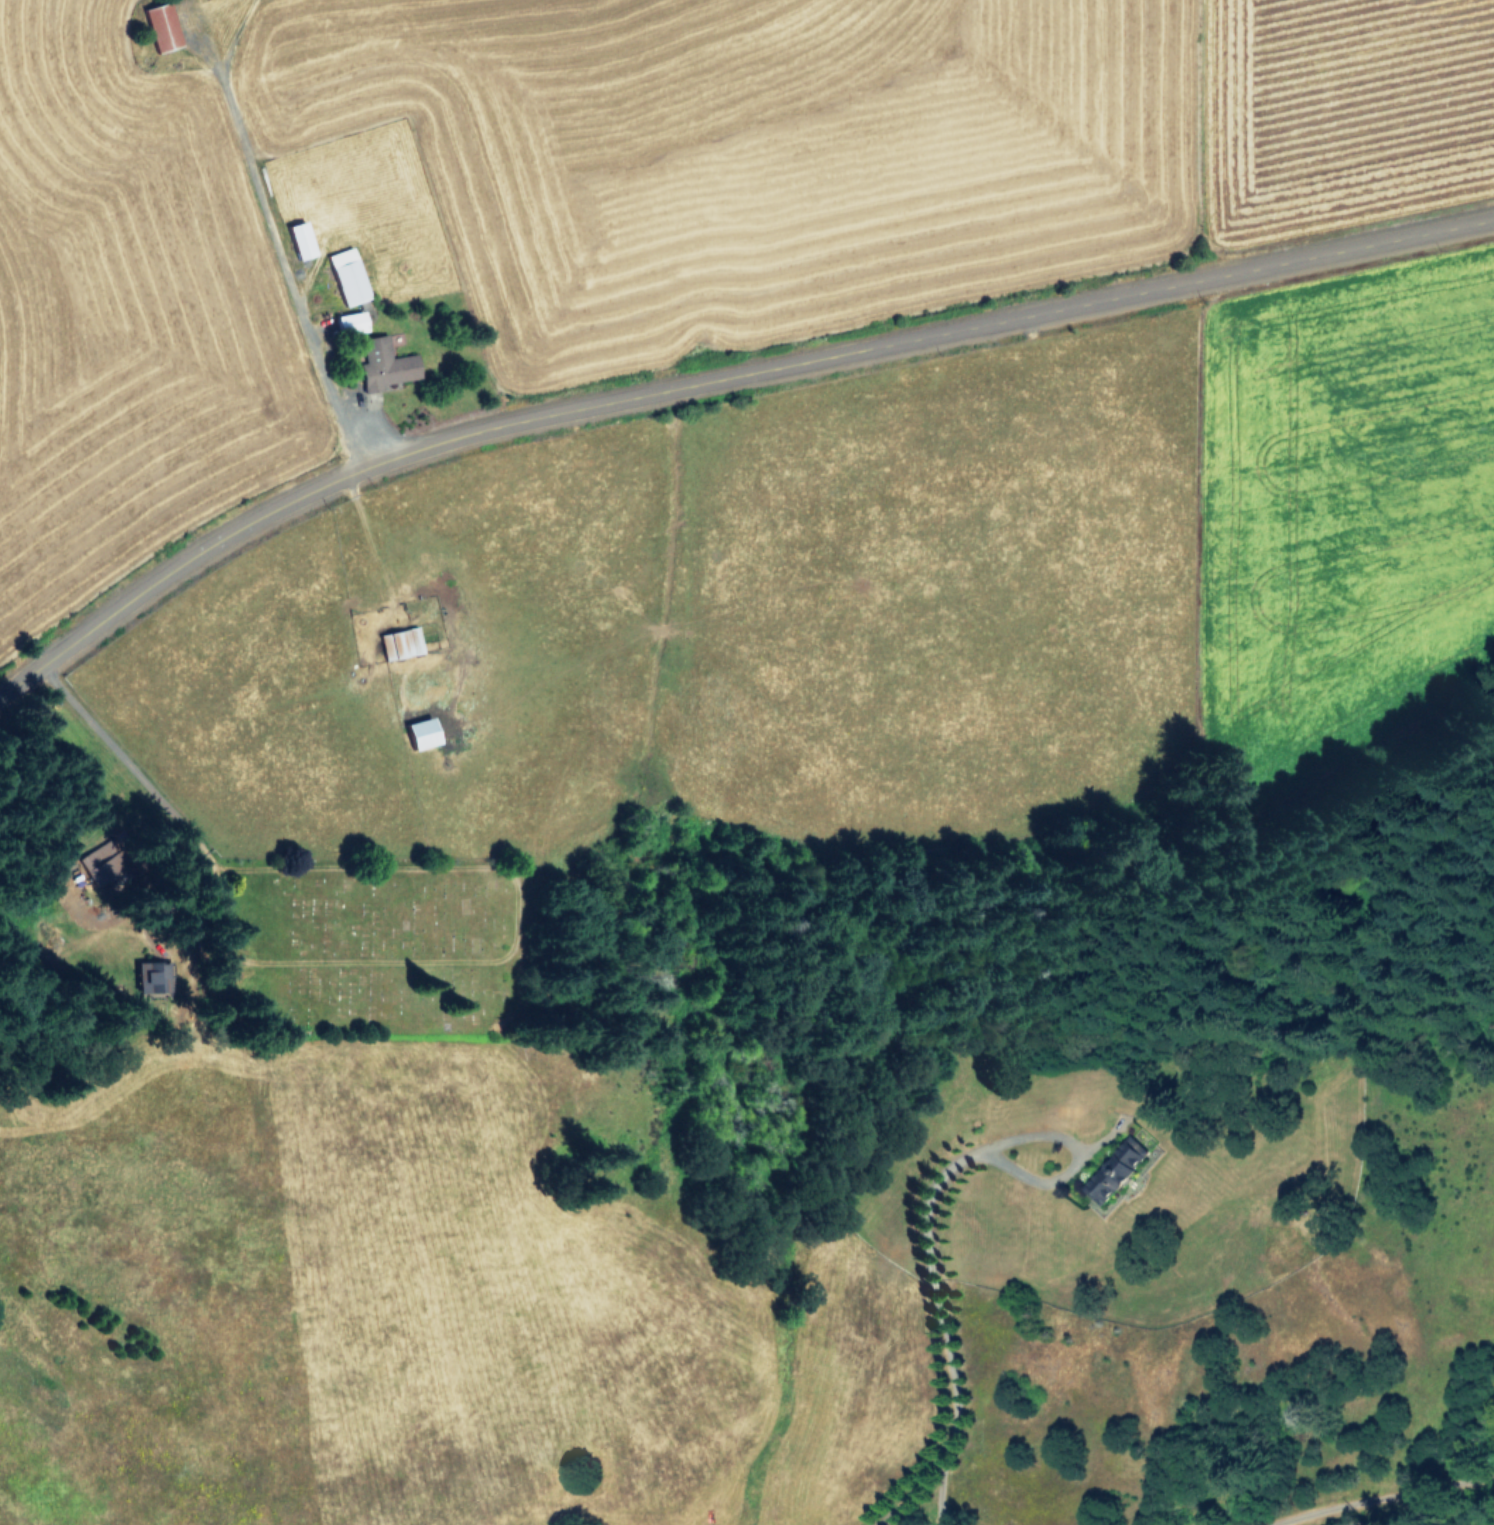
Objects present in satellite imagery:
building: (163, 28)
road: (269, 232)
building: (301, 238)
building: (348, 275)
building: (352, 321)
building: (385, 367)
road: (716, 369)
road: (366, 539)
building: (401, 642)
crop: (709, 729)
building: (422, 732)
road: (120, 759)
building: (154, 973)
building: (1115, 1173)

